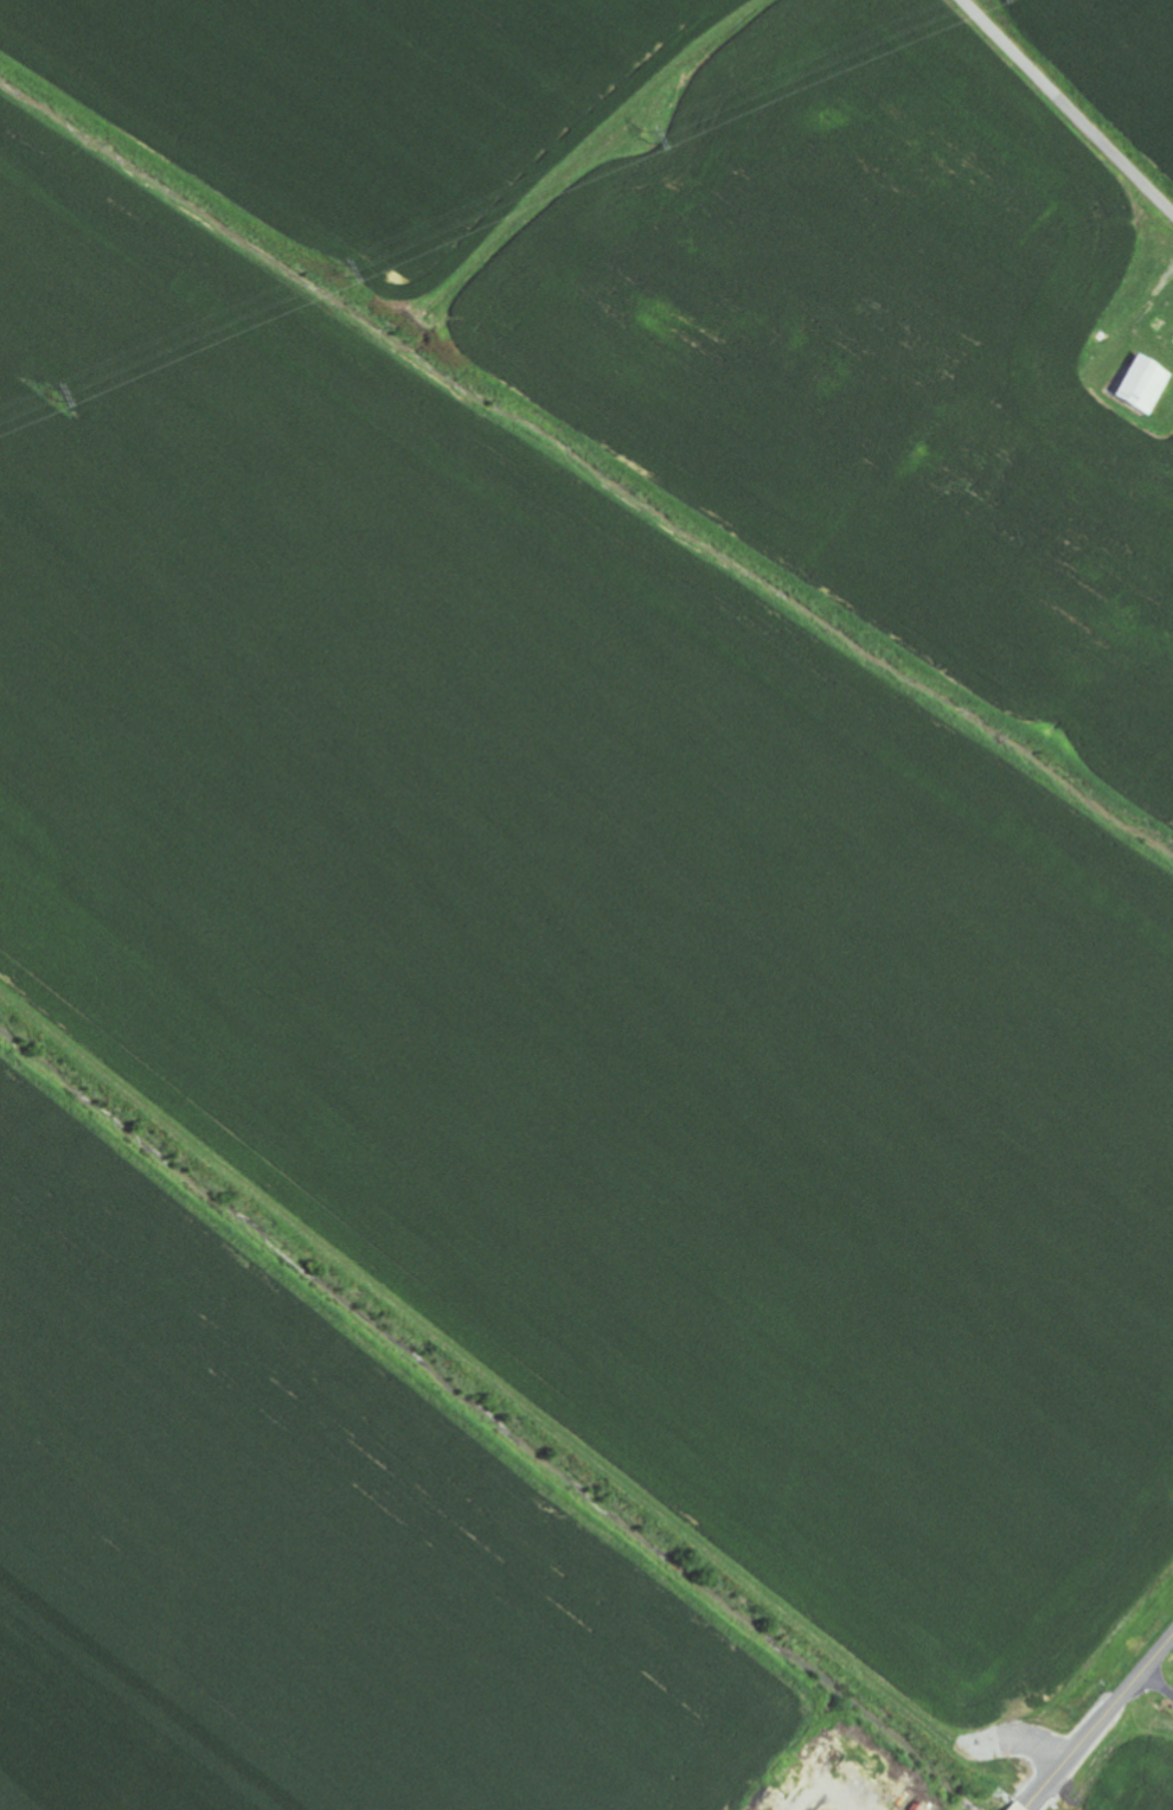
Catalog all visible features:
road: (1065, 109)
building: (1139, 385)
road: (1159, 1678)
road: (1097, 1722)

